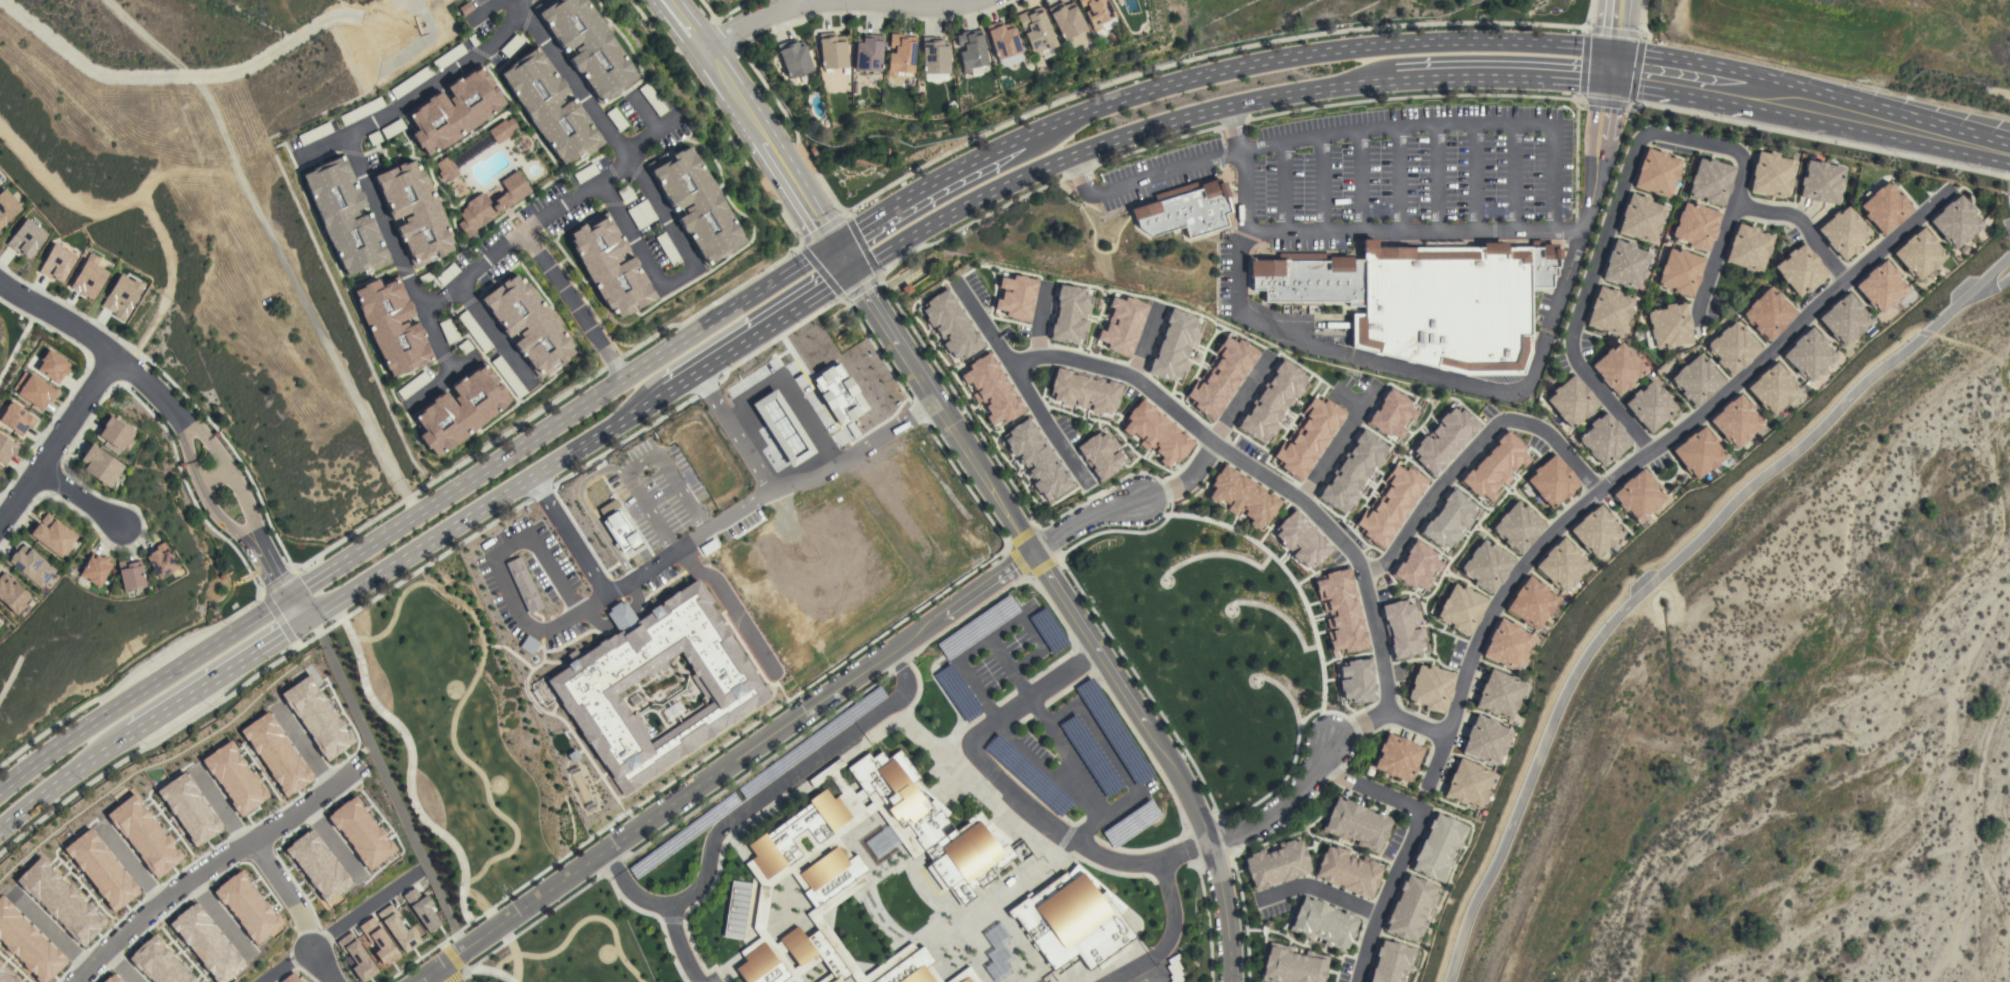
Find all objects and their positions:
road: (832, 0)
road: (801, 2)
road: (1588, 14)
building: (1099, 16)
road: (1641, 18)
building: (1066, 19)
road: (1612, 25)
building: (1038, 32)
road: (1636, 35)
building: (1003, 39)
building: (511, 46)
building: (587, 46)
building: (832, 51)
road: (1331, 51)
building: (971, 52)
building: (868, 53)
building: (901, 55)
building: (448, 56)
building: (794, 58)
road: (1199, 58)
building: (934, 59)
road: (1622, 60)
road: (1608, 65)
road: (1500, 73)
road: (1620, 75)
building: (411, 81)
road: (423, 88)
building: (652, 99)
road: (1228, 105)
road: (1823, 107)
building: (550, 108)
building: (362, 111)
building: (454, 111)
building: (616, 119)
road: (751, 119)
road: (1445, 126)
building: (392, 128)
road: (1212, 129)
building: (501, 130)
road: (1039, 130)
building: (315, 134)
road: (794, 134)
road: (1220, 137)
road: (1819, 139)
road: (1221, 157)
road: (1575, 159)
building: (446, 169)
parking lot: (1373, 171)
building: (1657, 172)
building: (585, 173)
building: (1771, 174)
road: (1142, 178)
road: (1513, 178)
road: (1474, 179)
road: (1398, 180)
road: (1435, 180)
building: (1711, 181)
road: (1359, 182)
building: (1821, 182)
road: (1321, 184)
road: (922, 187)
road: (1281, 188)
road: (142, 200)
road: (655, 201)
building: (491, 204)
building: (696, 204)
building: (7, 207)
road: (957, 208)
building: (1885, 208)
building: (1186, 211)
building: (415, 212)
road: (552, 212)
building: (641, 214)
building: (345, 217)
building: (1641, 218)
road: (839, 219)
building: (1955, 222)
road: (1803, 225)
building: (1696, 226)
road: (1572, 232)
building: (1843, 232)
road: (1422, 233)
road: (1608, 233)
building: (25, 239)
road: (1091, 240)
road: (1459, 242)
traffic signals: (833, 243)
building: (1748, 248)
building: (667, 249)
road: (400, 253)
building: (1919, 253)
road: (842, 257)
road: (1716, 258)
building: (1542, 262)
building: (56, 264)
building: (1626, 264)
building: (610, 266)
building: (1800, 269)
traffic signals: (852, 271)
building: (1680, 271)
building: (447, 274)
building: (88, 278)
building: (1309, 278)
building: (1881, 287)
building: (120, 297)
building: (1015, 298)
road: (573, 303)
building: (1447, 306)
road: (726, 309)
building: (1609, 311)
building: (1768, 313)
building: (1069, 315)
building: (1844, 319)
road: (1037, 320)
building: (529, 325)
building: (1122, 325)
building: (392, 326)
road: (672, 326)
building: (950, 326)
building: (1670, 326)
building: (447, 331)
building: (474, 331)
road: (489, 331)
road: (1142, 342)
road: (99, 344)
road: (735, 346)
building: (1173, 346)
building: (1733, 347)
road: (15, 348)
road: (1968, 351)
building: (1809, 354)
road: (910, 362)
building: (52, 366)
building: (1618, 368)
road: (1122, 373)
road: (1417, 374)
building: (508, 377)
building: (1220, 378)
building: (1697, 380)
road: (443, 382)
building: (413, 385)
building: (1772, 388)
building: (33, 390)
building: (990, 390)
building: (1083, 392)
road: (1030, 396)
road: (785, 399)
building: (1272, 401)
road: (1348, 401)
building: (1572, 401)
road: (1239, 403)
building: (1651, 405)
building: (460, 410)
building: (1391, 414)
building: (16, 418)
building: (1736, 420)
road: (731, 432)
building: (115, 433)
building: (1155, 433)
building: (1308, 438)
road: (58, 439)
building: (1604, 439)
building: (1443, 440)
road: (1665, 443)
road: (209, 444)
road: (1337, 444)
road: (1472, 447)
building: (6, 449)
building: (1697, 453)
road: (186, 455)
building: (1099, 455)
building: (1036, 460)
road: (639, 463)
building: (101, 466)
building: (1494, 467)
building: (1352, 472)
road: (213, 478)
road: (1183, 481)
building: (1552, 481)
road: (454, 486)
building: (1638, 495)
building: (1243, 496)
road: (241, 500)
road: (81, 501)
road: (999, 504)
building: (1389, 507)
road: (589, 512)
road: (217, 514)
road: (462, 520)
road: (1082, 520)
building: (1448, 520)
building: (1517, 527)
road: (708, 529)
building: (619, 531)
building: (1595, 531)
building: (53, 536)
building: (1301, 540)
road: (1015, 560)
building: (162, 561)
road: (266, 564)
building: (32, 565)
building: (1560, 565)
building: (1417, 566)
building: (1486, 566)
building: (95, 569)
road: (415, 570)
road: (1664, 571)
building: (131, 575)
road: (1362, 576)
building: (12, 594)
road: (267, 603)
building: (1530, 603)
road: (297, 606)
building: (1461, 609)
building: (1341, 610)
road: (1006, 625)
building: (1402, 628)
road: (315, 632)
building: (1506, 645)
road: (1001, 653)
road: (127, 675)
road: (218, 675)
road: (1063, 677)
building: (1355, 681)
building: (1431, 687)
road: (142, 689)
road: (465, 692)
building: (1498, 694)
building: (315, 718)
building: (1485, 740)
road: (306, 747)
building: (275, 754)
road: (1164, 754)
building: (1398, 757)
road: (1033, 760)
road: (696, 764)
road: (722, 764)
road: (1438, 764)
road: (409, 770)
road: (743, 775)
road: (63, 778)
road: (1302, 782)
building: (1467, 783)
road: (386, 784)
park: (483, 787)
road: (1122, 800)
road: (752, 804)
road: (221, 810)
road: (1043, 821)
building: (1130, 824)
building: (1357, 824)
road: (1087, 828)
building: (360, 833)
road: (1409, 845)
building: (1438, 847)
road: (131, 864)
building: (1276, 864)
building: (317, 866)
road: (211, 867)
building: (862, 867)
building: (1348, 872)
road: (1320, 890)
road: (482, 903)
building: (1410, 908)
building: (420, 909)
building: (737, 909)
road: (297, 912)
road: (216, 916)
building: (1074, 920)
building: (1323, 923)
road: (576, 925)
road: (341, 928)
building: (397, 929)
road: (55, 933)
road: (456, 935)
road: (1167, 936)
building: (377, 941)
road: (677, 945)
road: (511, 951)
building: (998, 953)
building: (356, 958)
building: (1390, 962)
road: (457, 965)
building: (1292, 965)
road: (120, 967)
building: (1173, 969)
road: (487, 970)
road: (444, 974)
building: (965, 976)
building: (289, 978)

